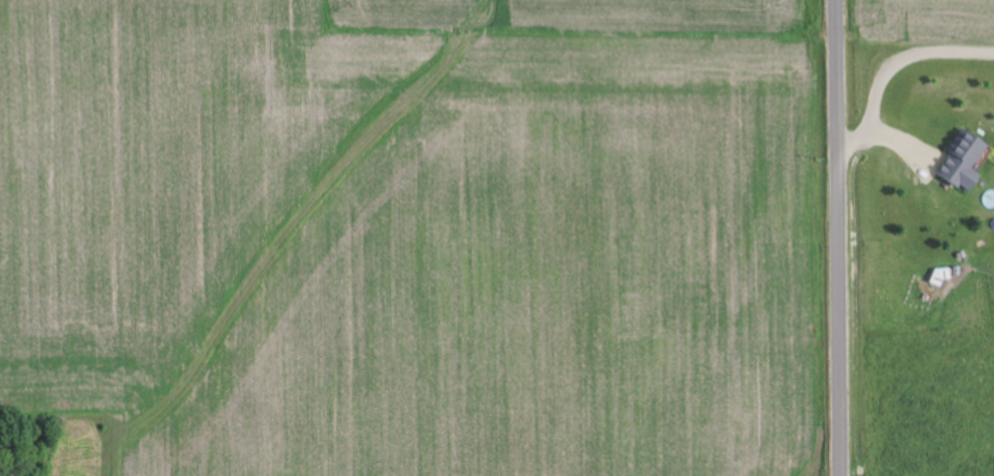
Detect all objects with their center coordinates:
road: (893, 64)
building: (965, 163)
road: (840, 237)

